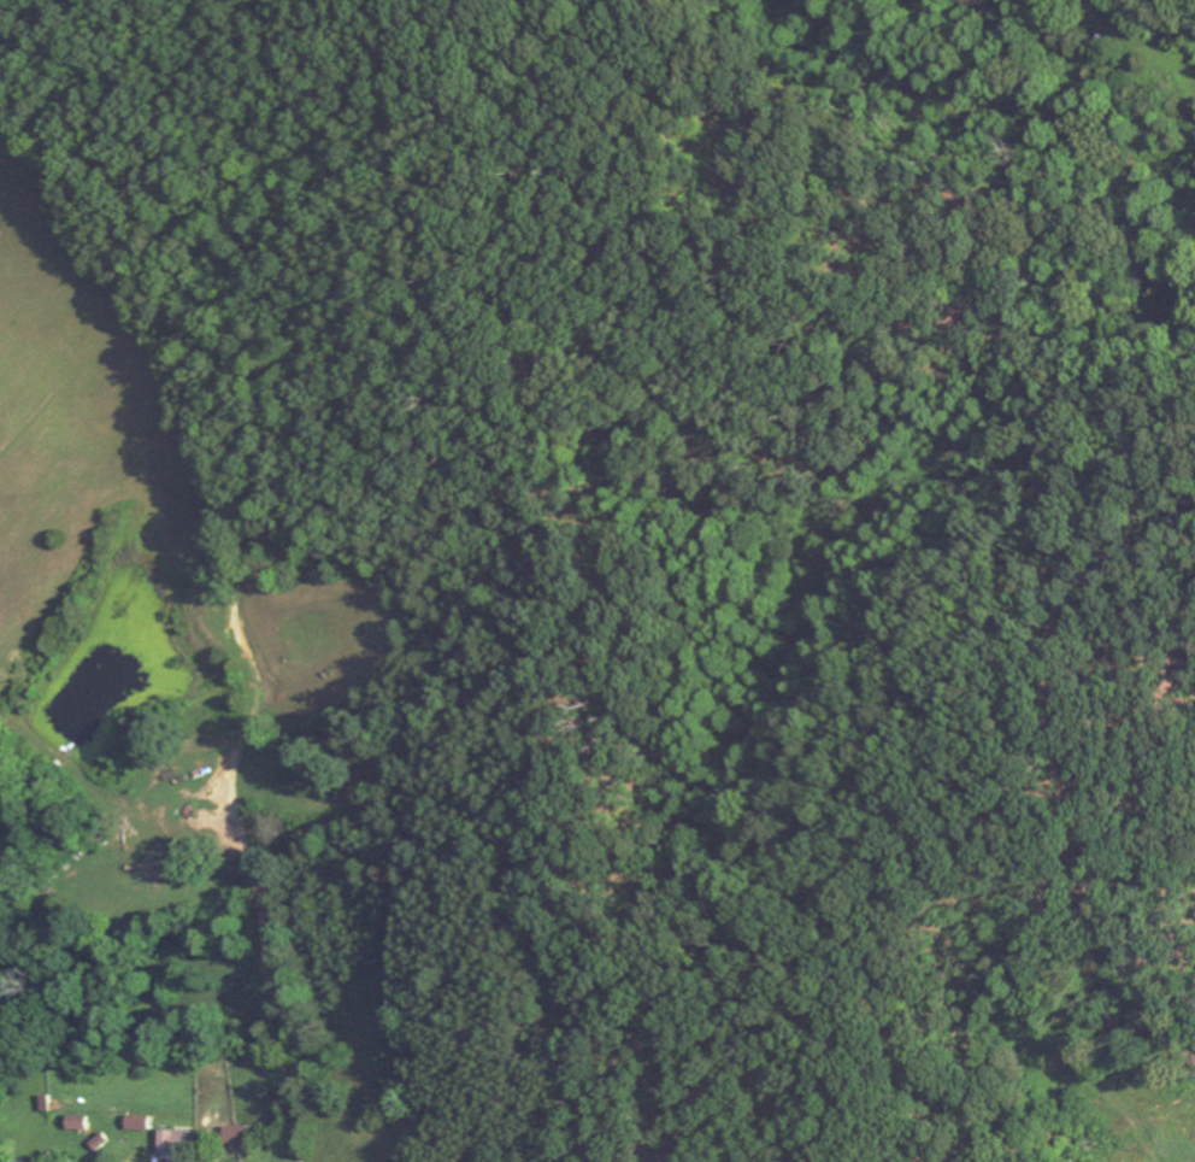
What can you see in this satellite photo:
building: (83, 1126)
building: (143, 1126)
building: (241, 1137)
building: (105, 1144)
building: (177, 1145)

